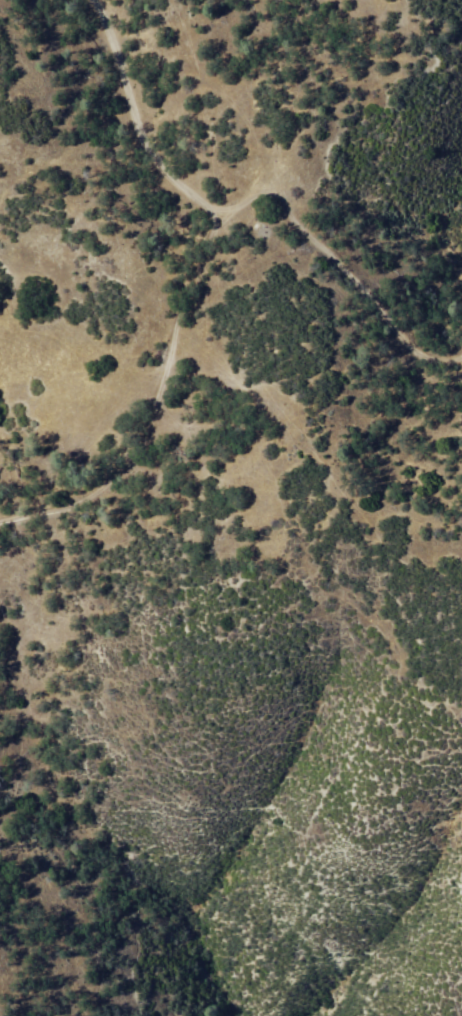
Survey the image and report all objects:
road: (338, 264)
road: (187, 285)

